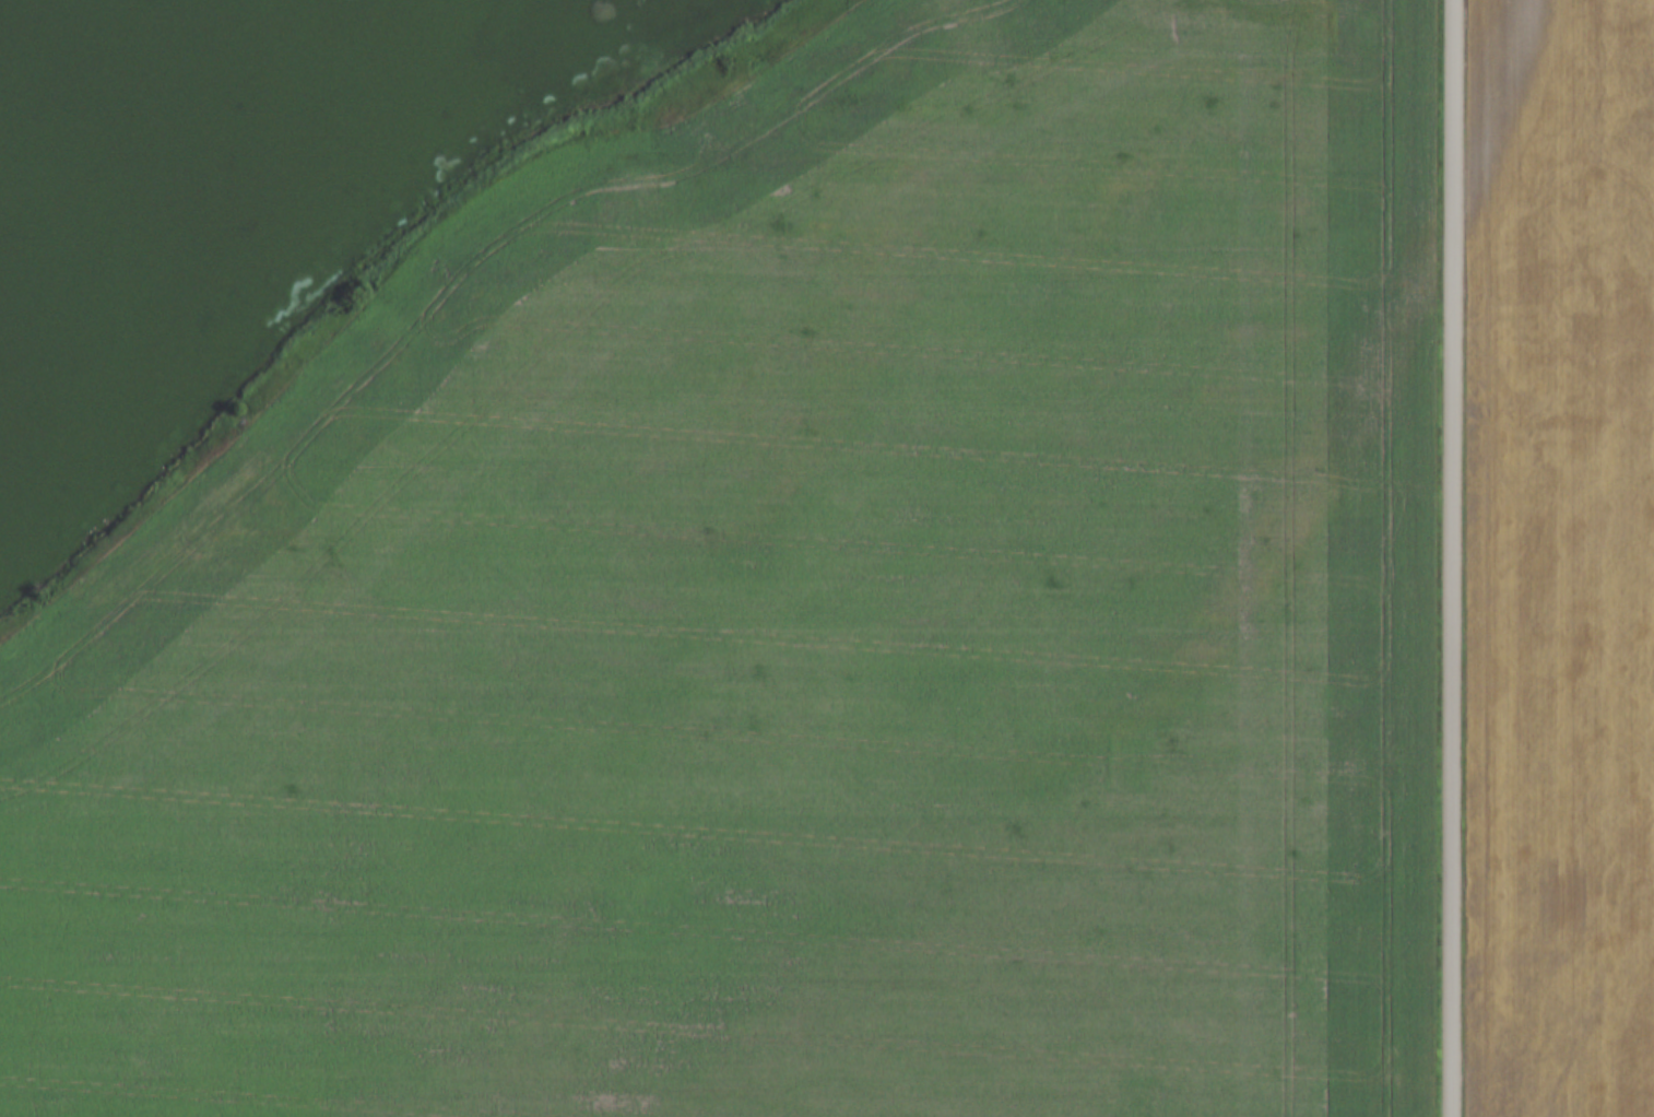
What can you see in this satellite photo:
road: (1453, 557)

